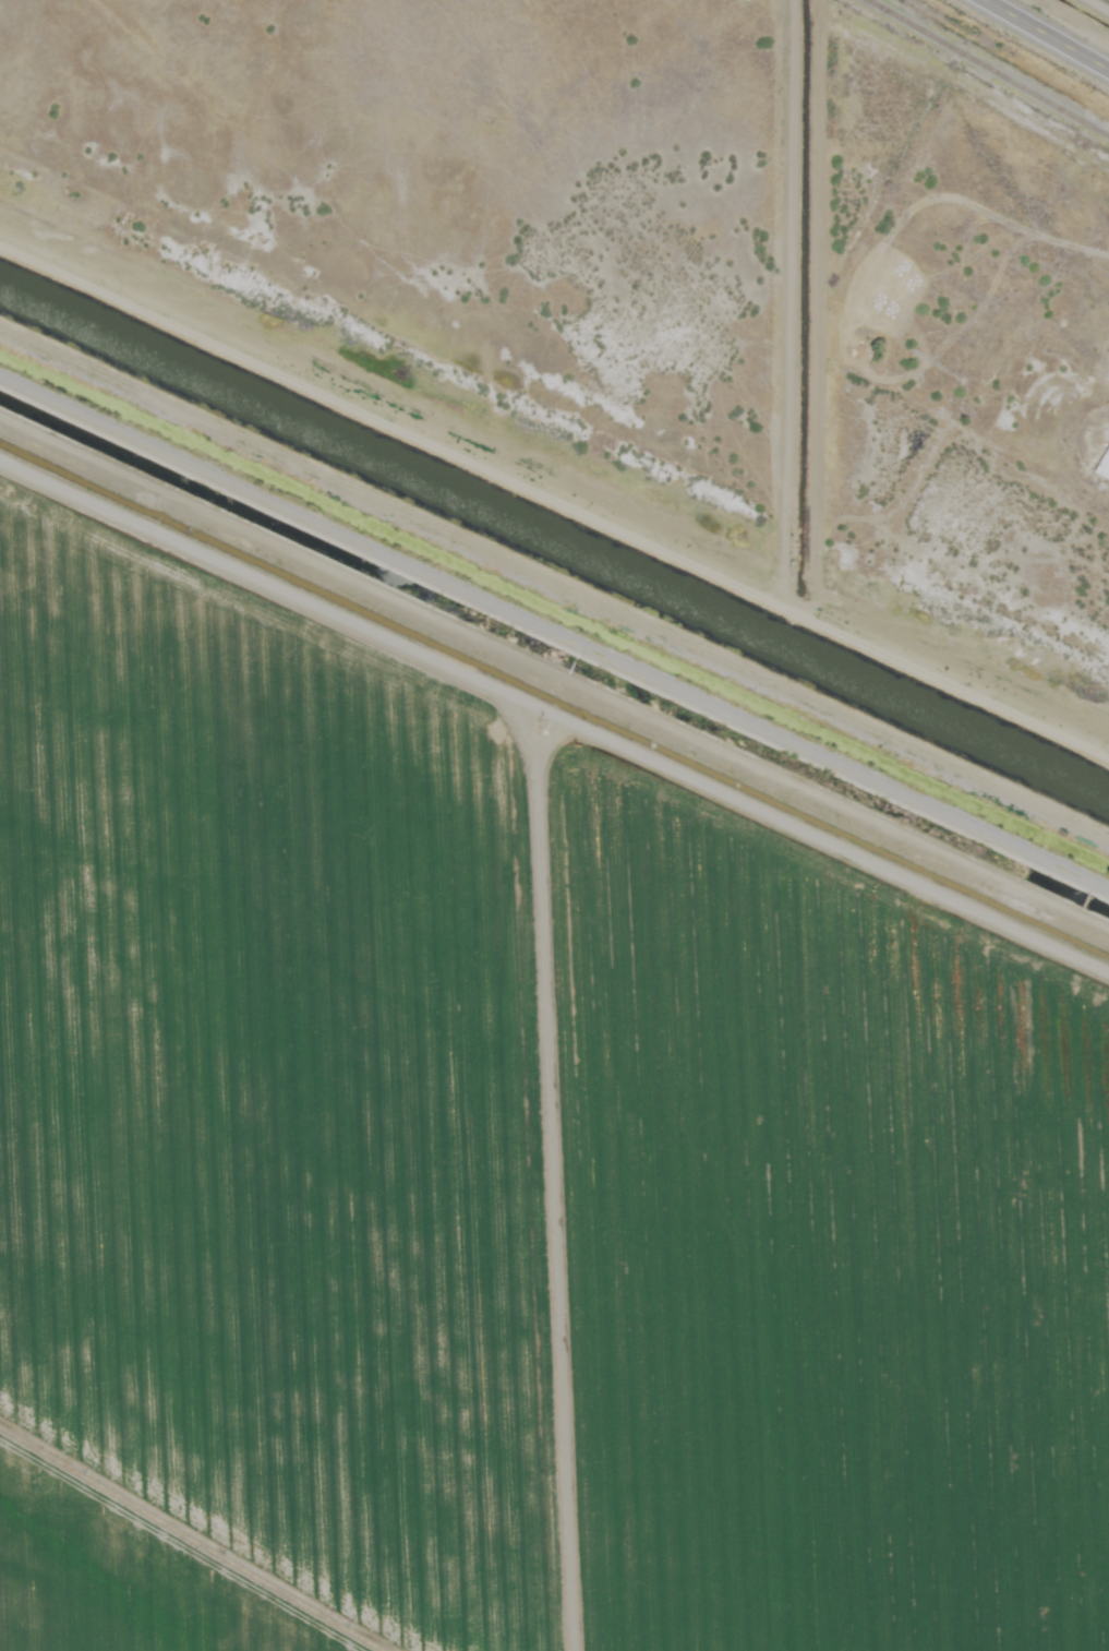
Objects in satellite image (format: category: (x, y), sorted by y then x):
crop: (1081, 15)
road: (1053, 31)
railway: (988, 68)
road: (554, 443)
building: (1102, 463)
road: (556, 655)
crop: (501, 1180)

